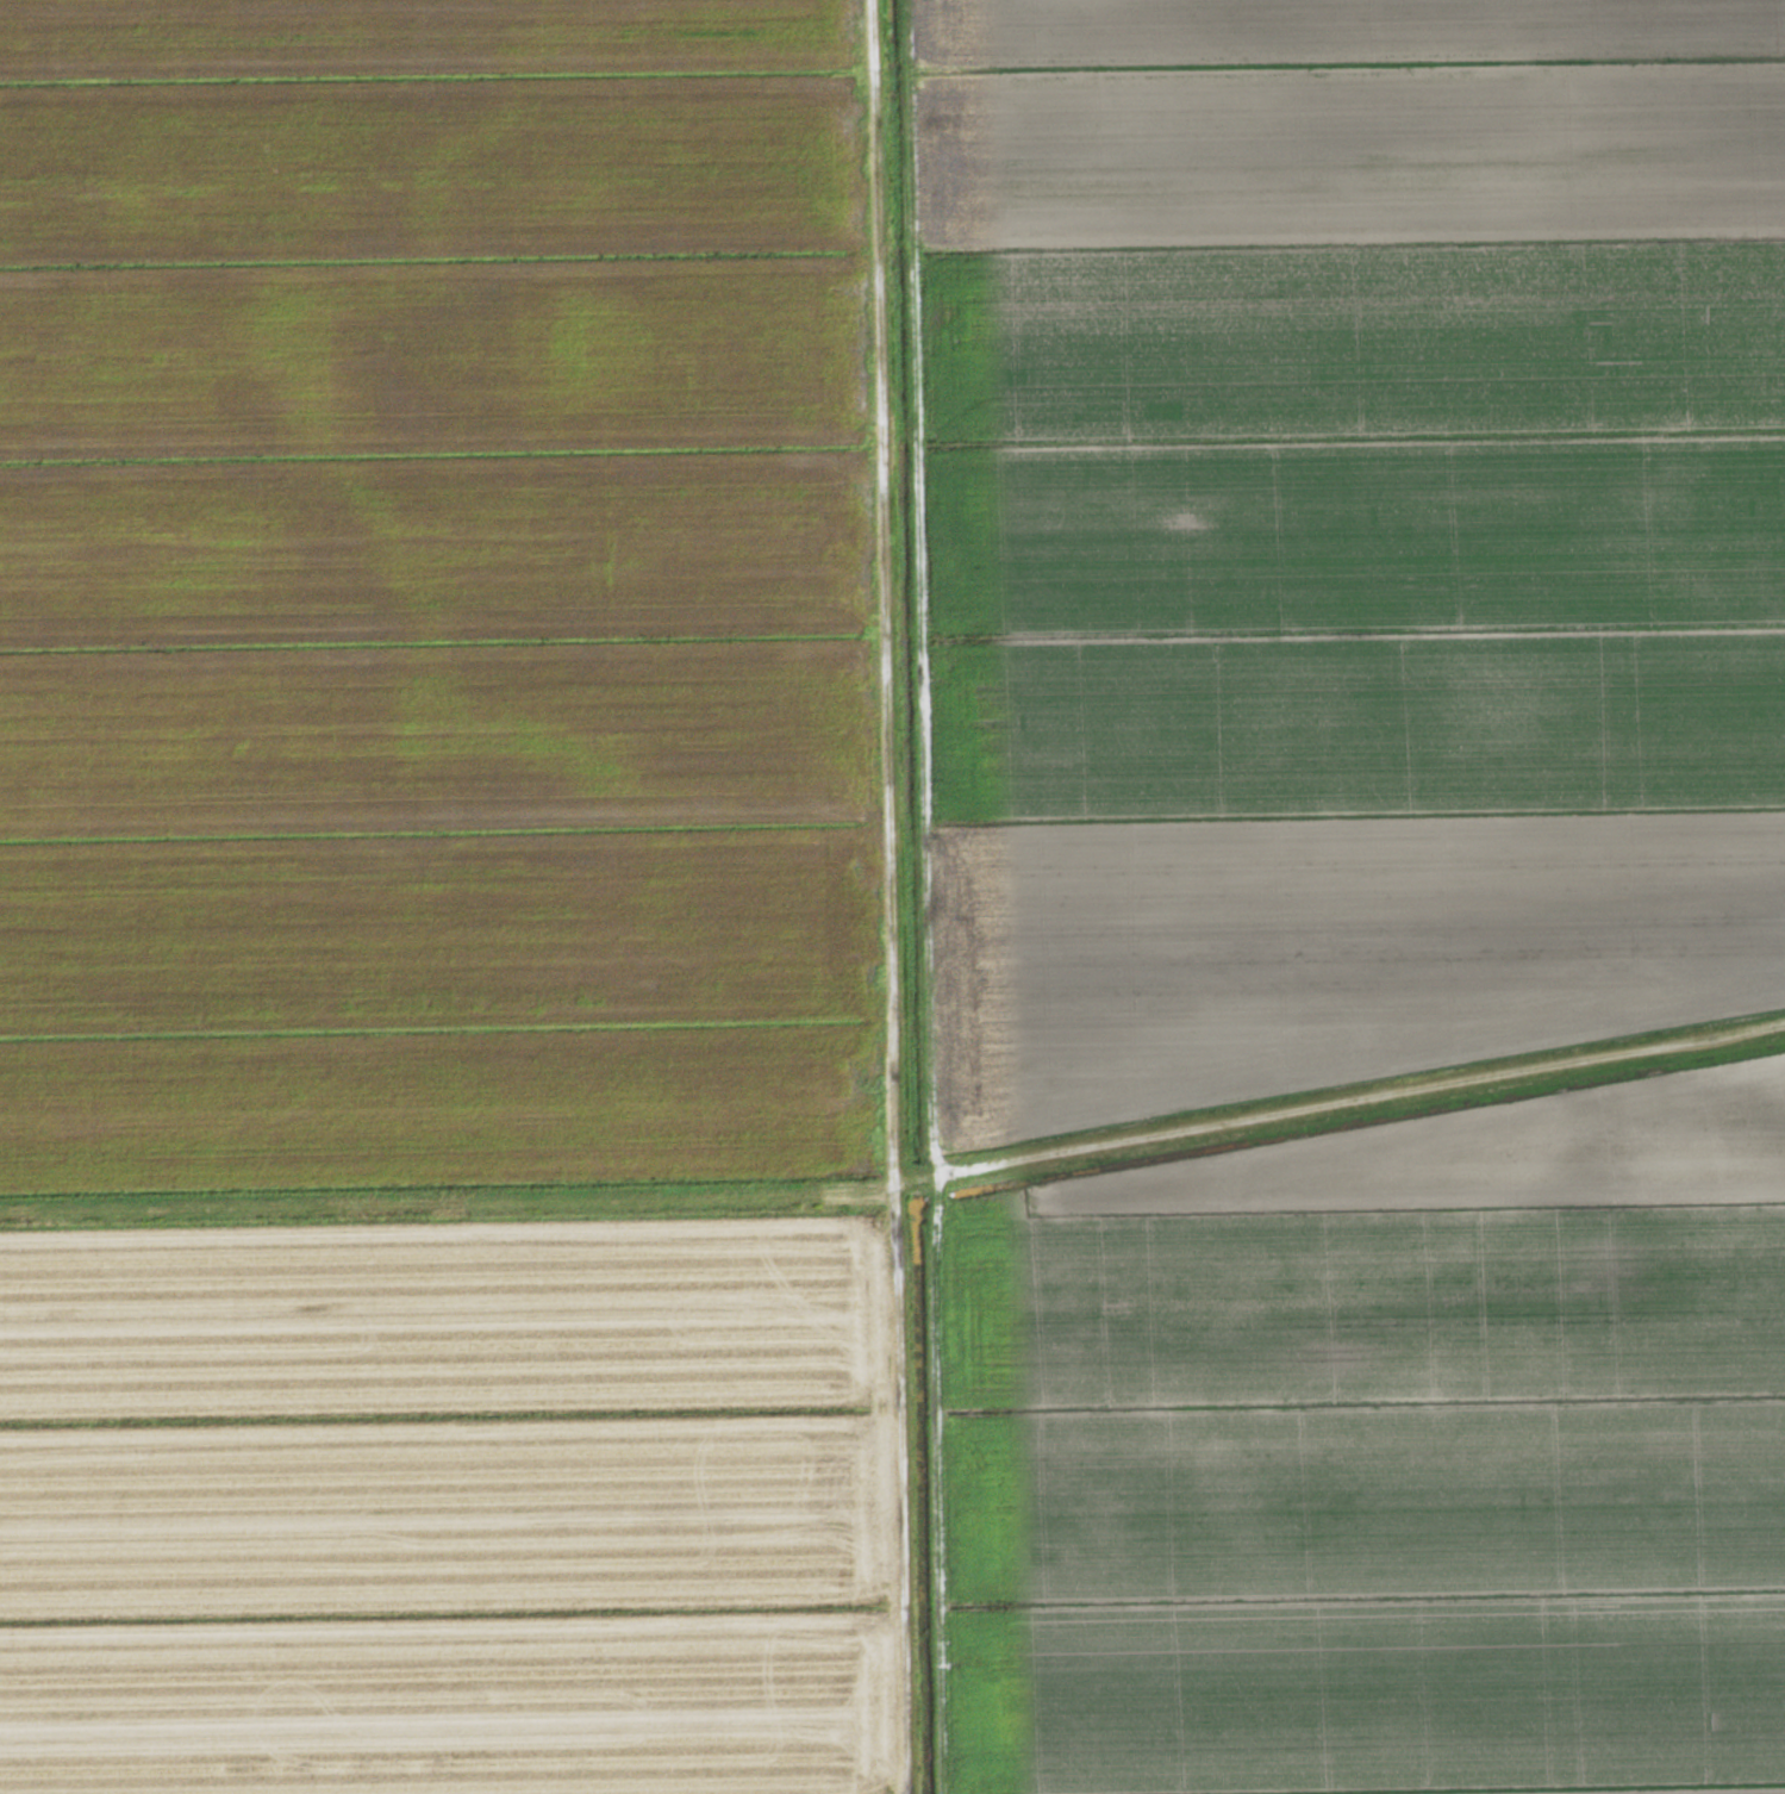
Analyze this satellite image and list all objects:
crop: (1340, 540)
crop: (437, 593)

